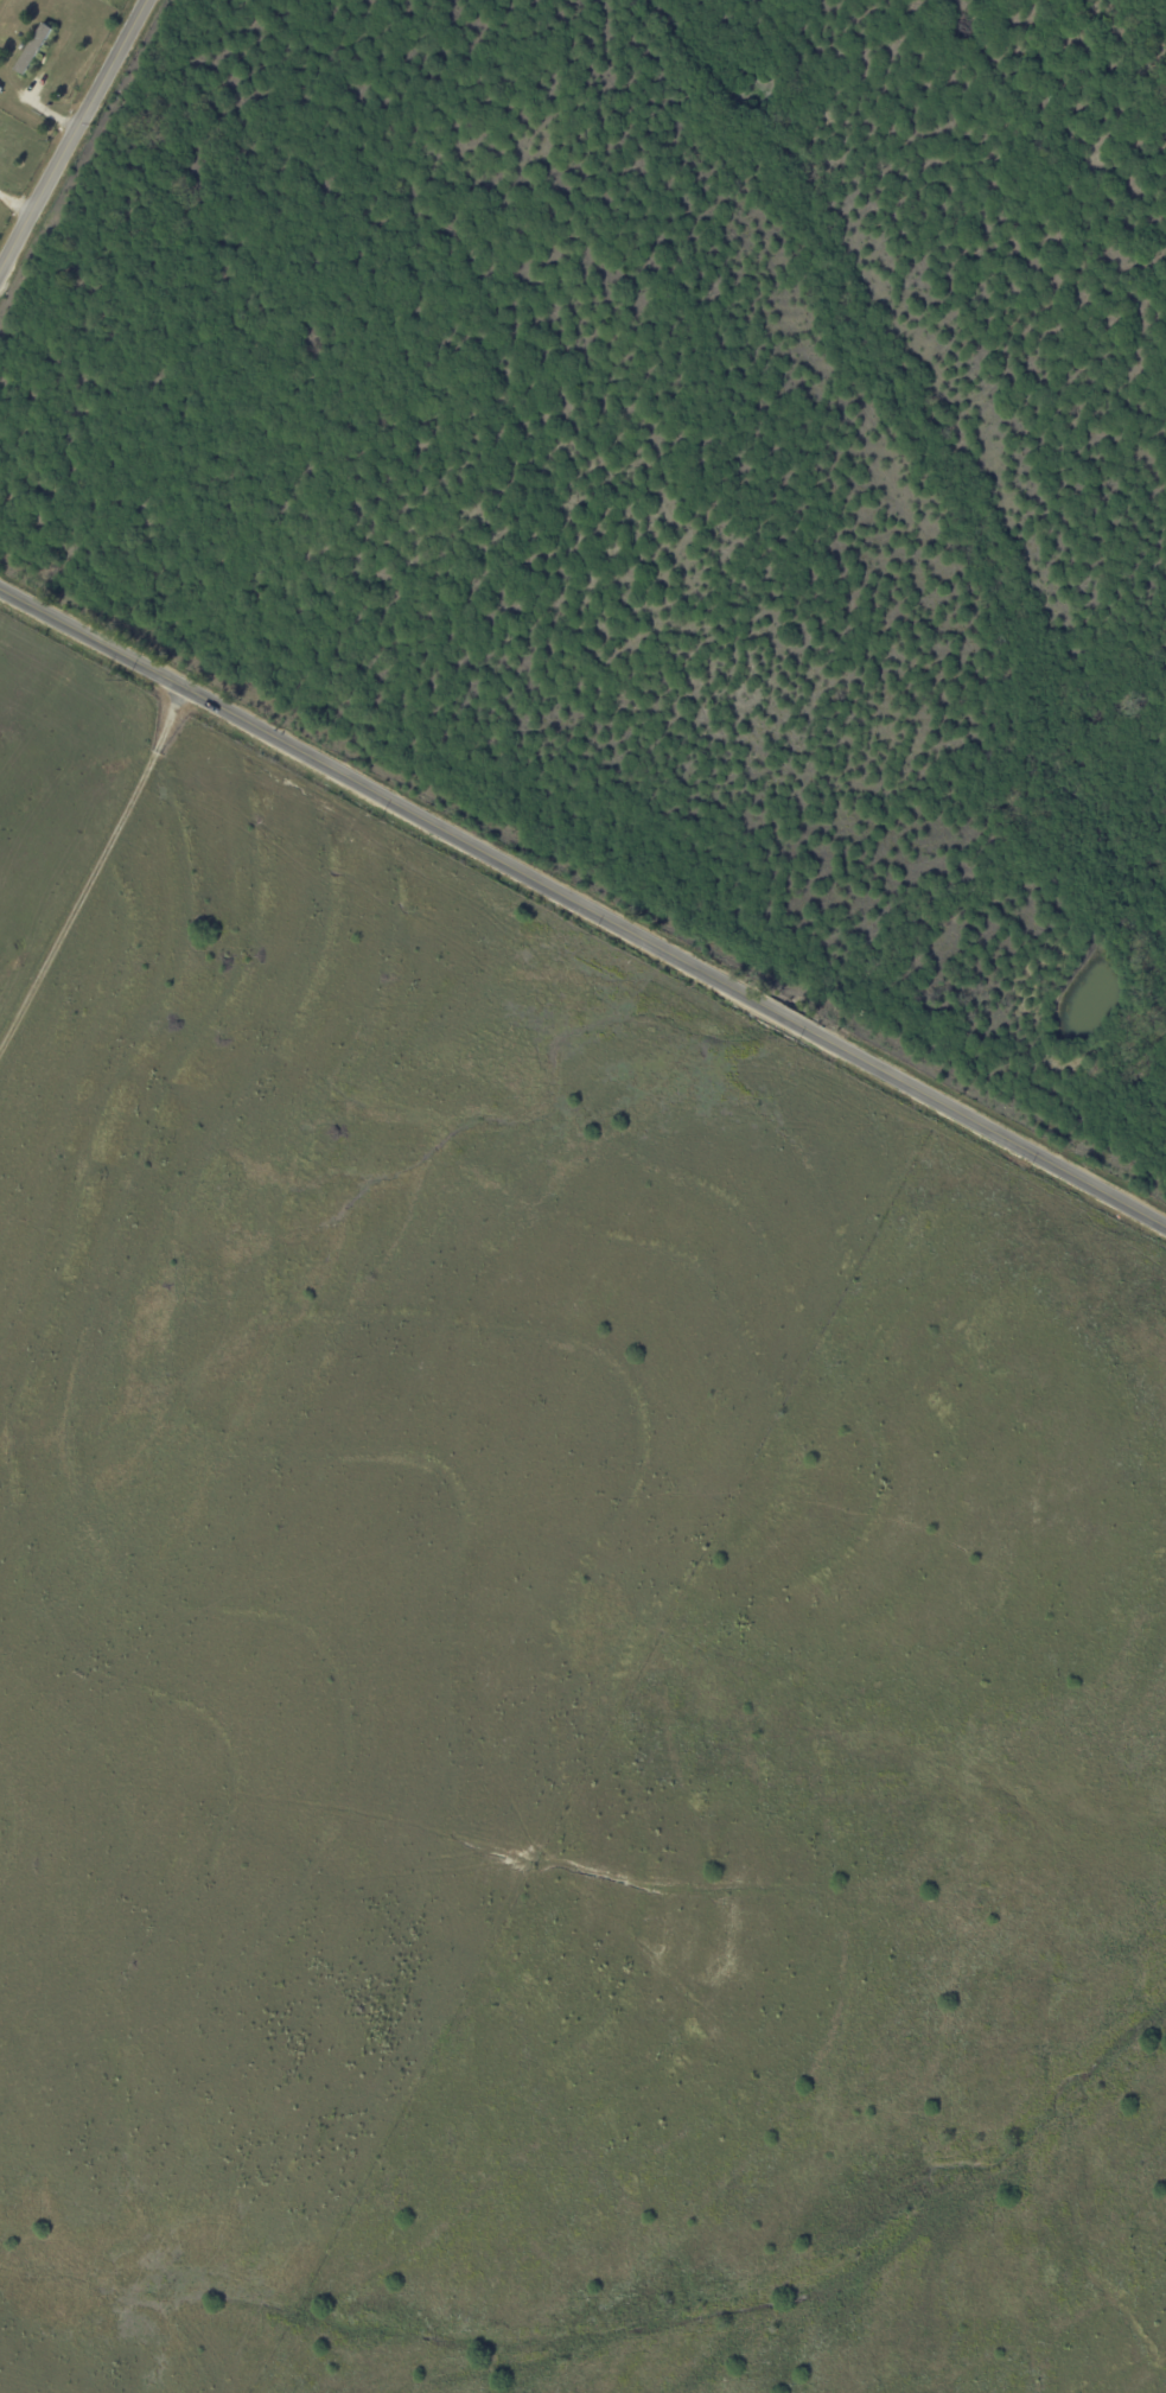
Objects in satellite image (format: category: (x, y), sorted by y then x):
building: (34, 49)
road: (72, 132)
road: (17, 195)
road: (93, 873)
road: (580, 914)

